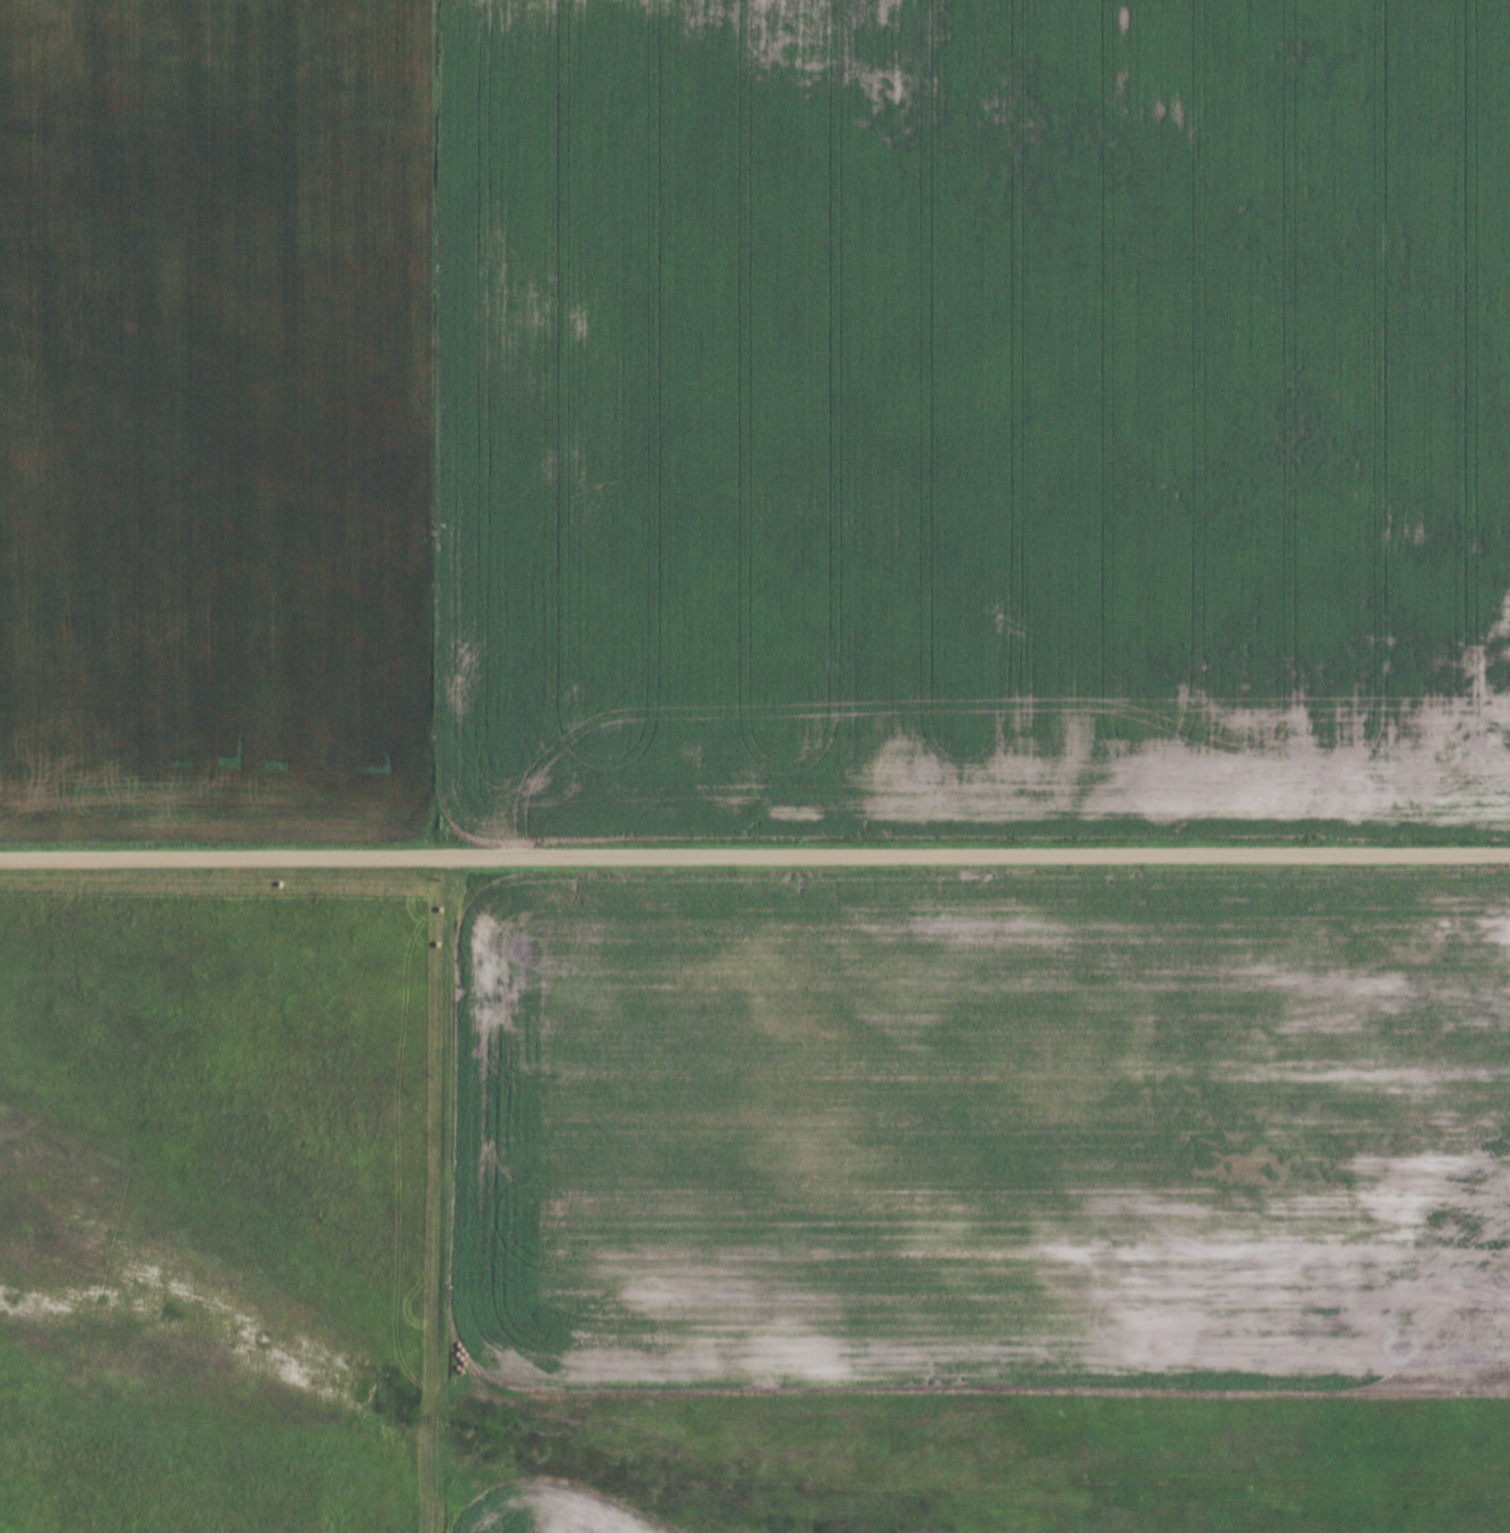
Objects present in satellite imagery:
road: (754, 853)

